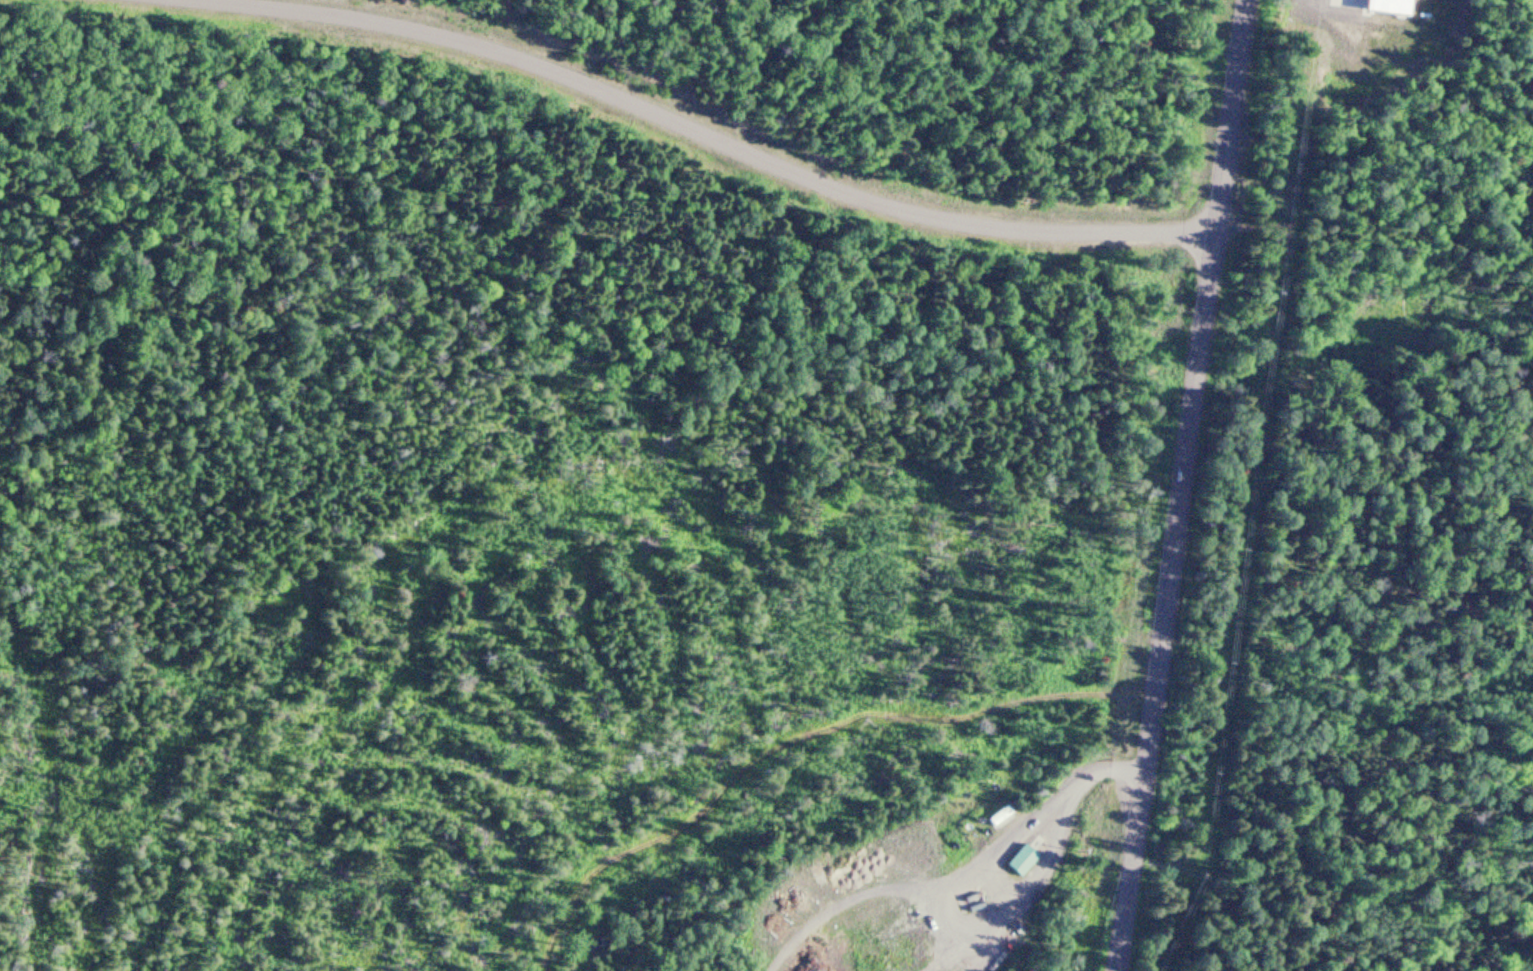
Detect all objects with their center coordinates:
road: (704, 133)
road: (1186, 486)
building: (998, 819)
building: (1022, 862)
road: (852, 904)
road: (1001, 925)
road: (959, 952)

